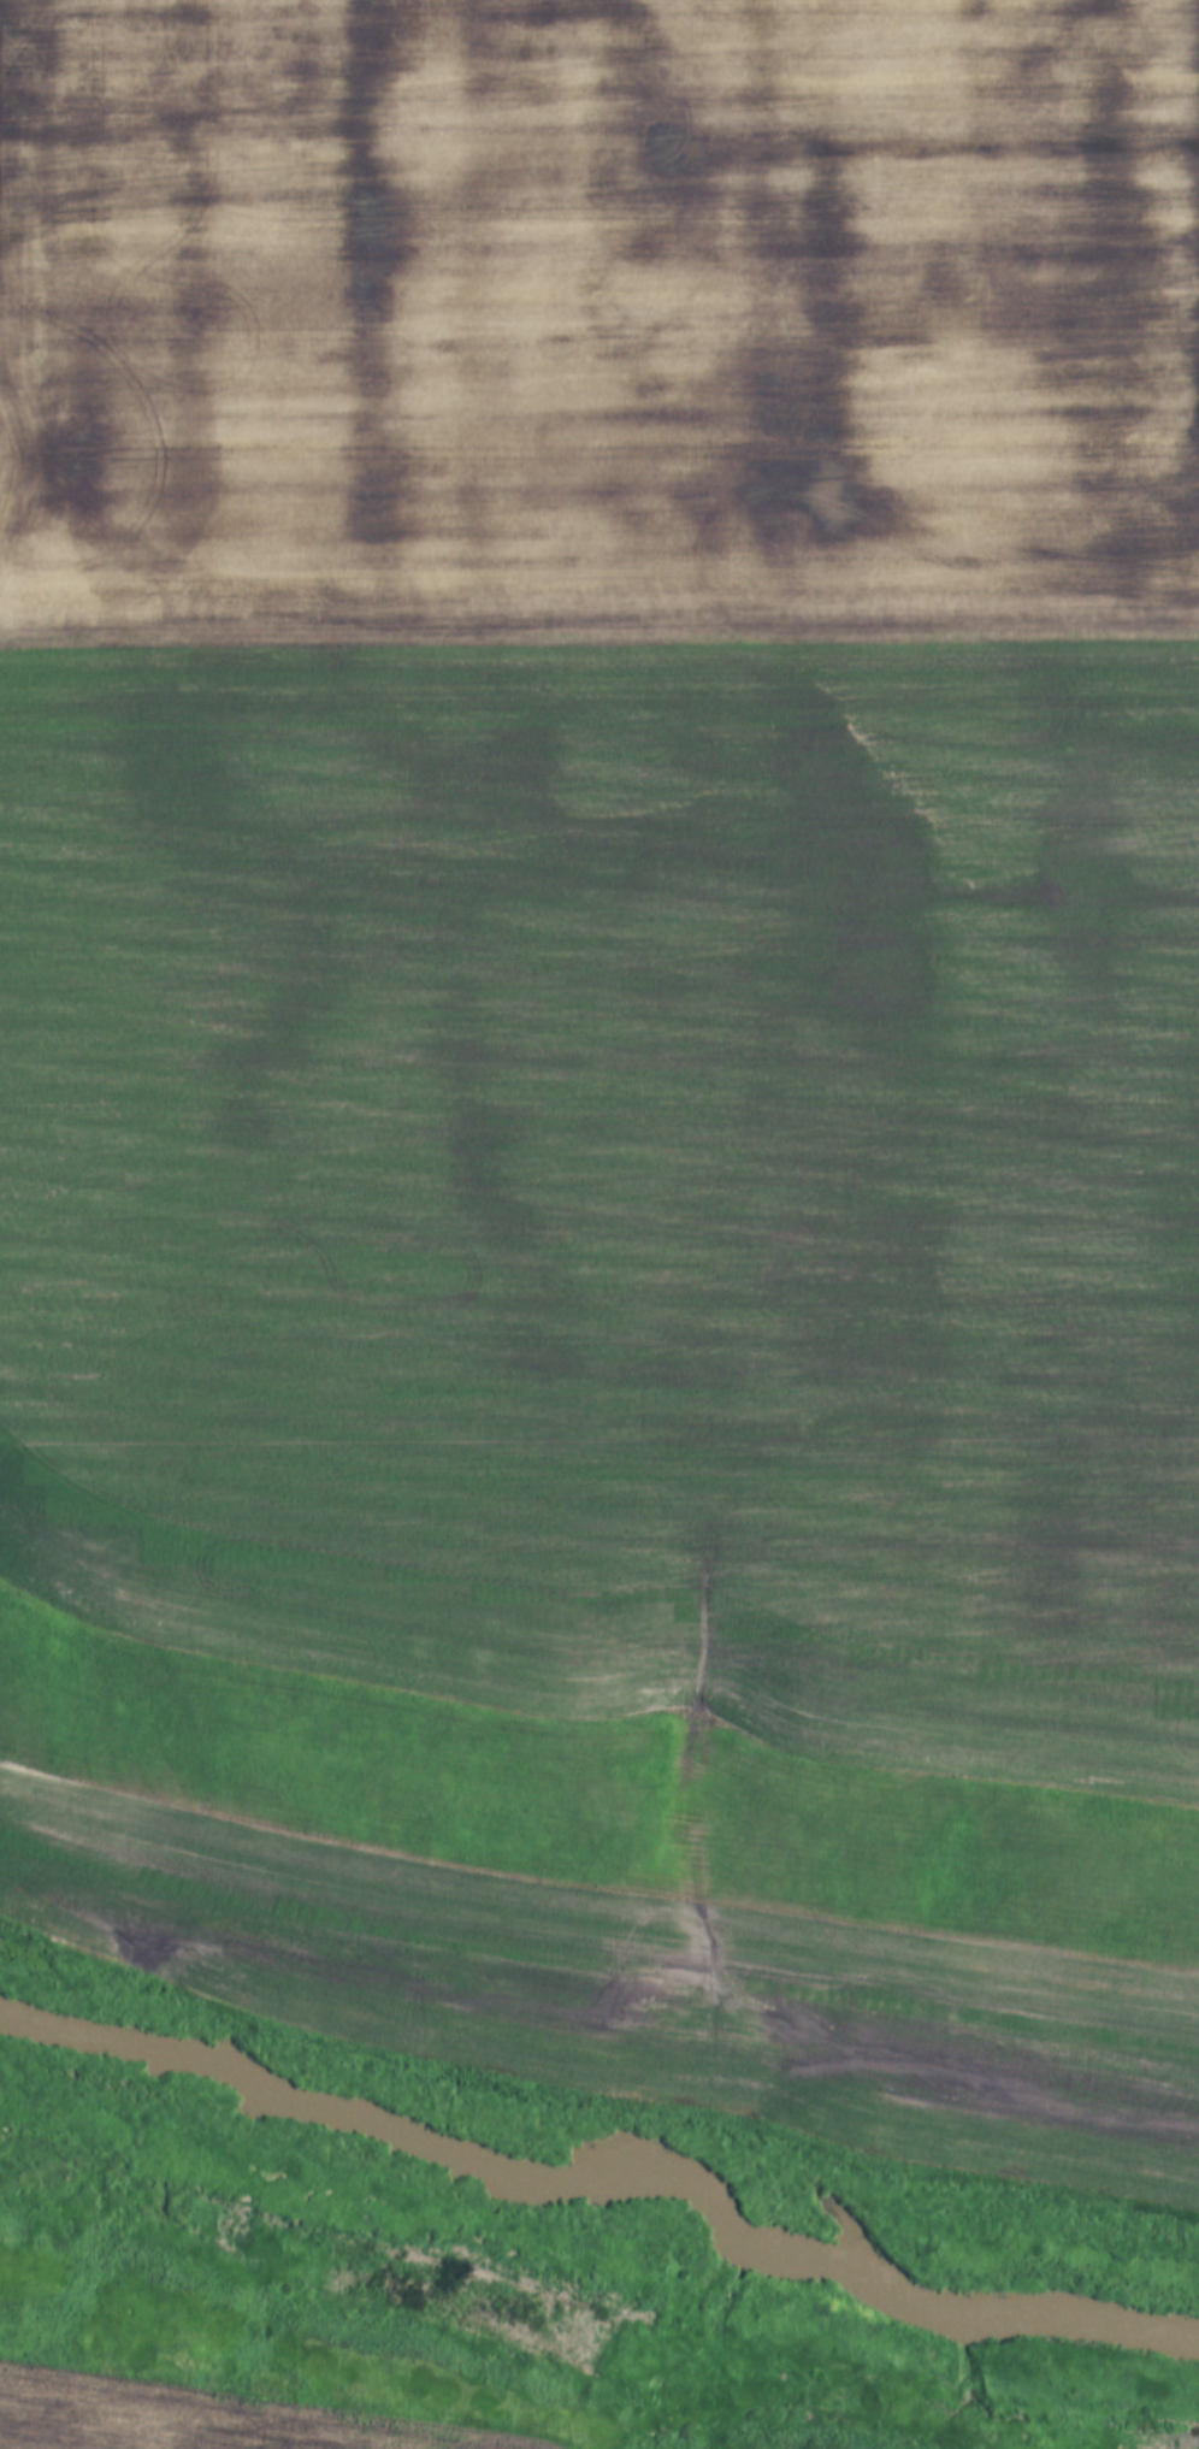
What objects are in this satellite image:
river: (607, 2172)

